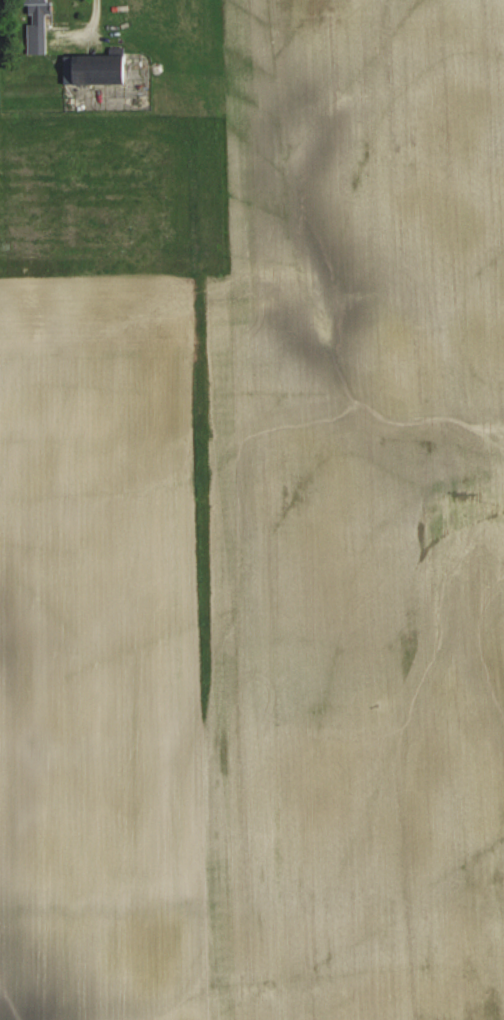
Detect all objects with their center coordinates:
building: (39, 26)
building: (96, 69)

